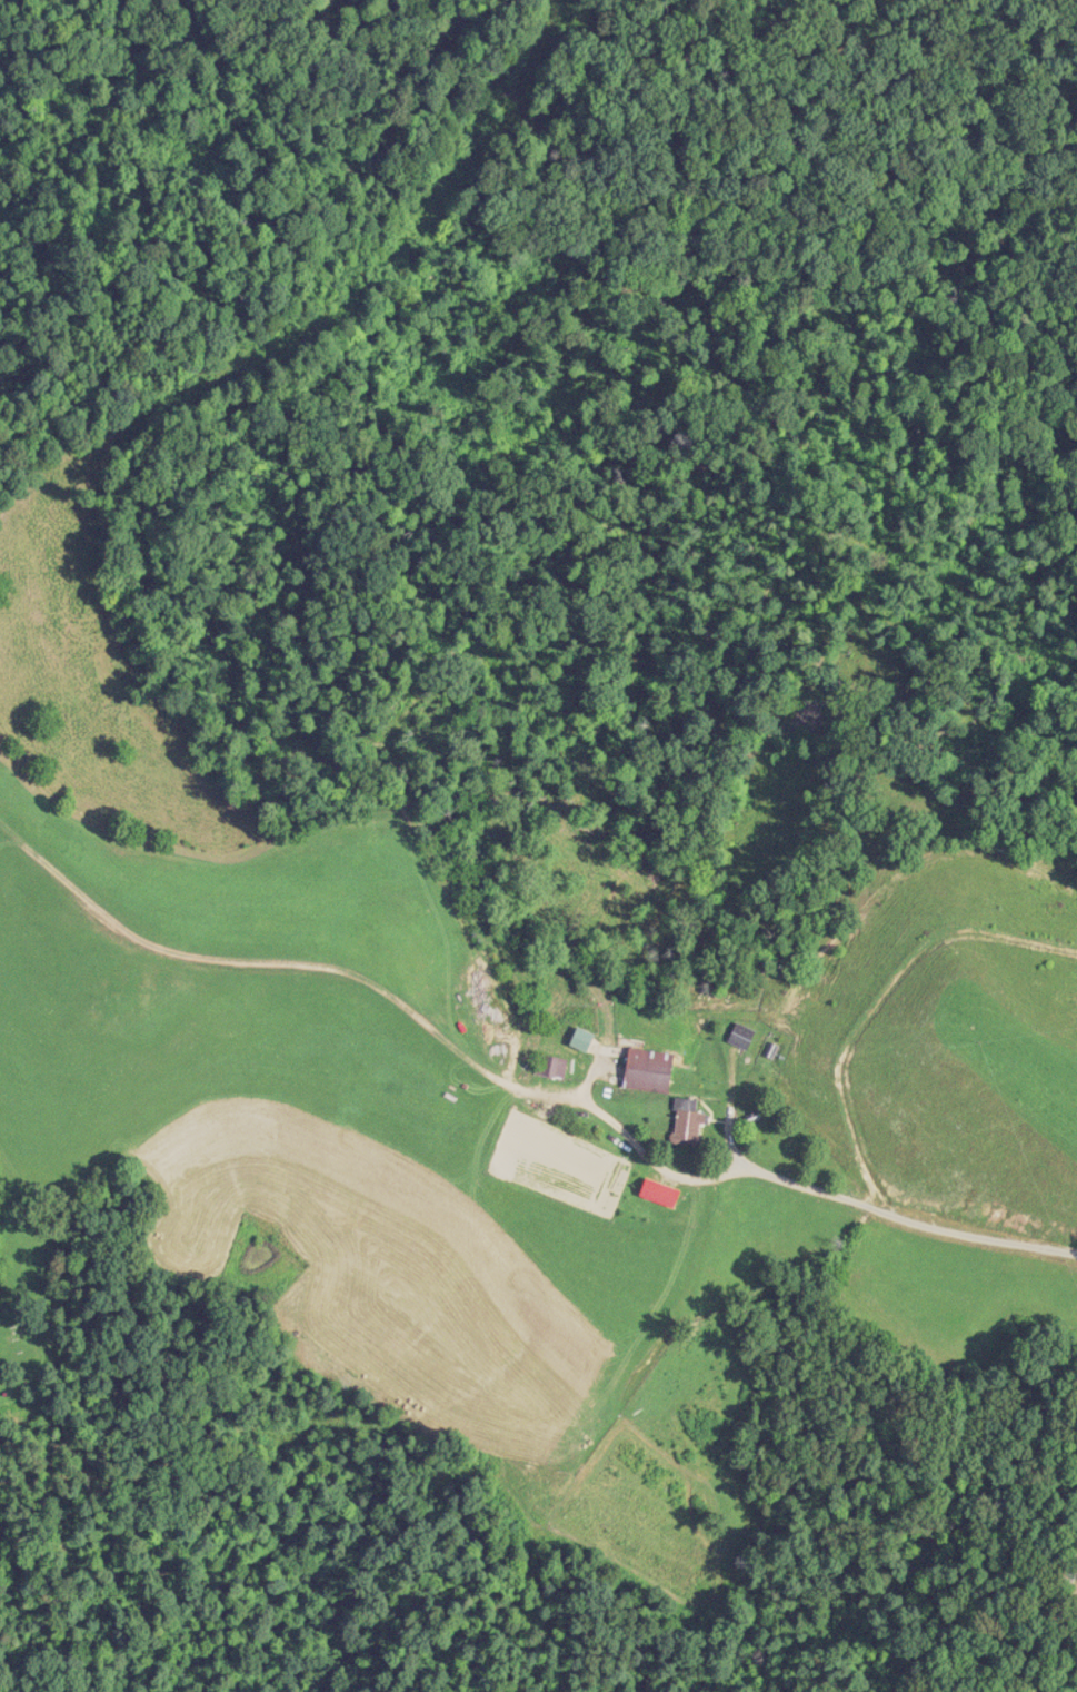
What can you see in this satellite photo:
building: (740, 1033)
road: (522, 1037)
building: (550, 1065)
building: (648, 1068)
building: (687, 1119)

